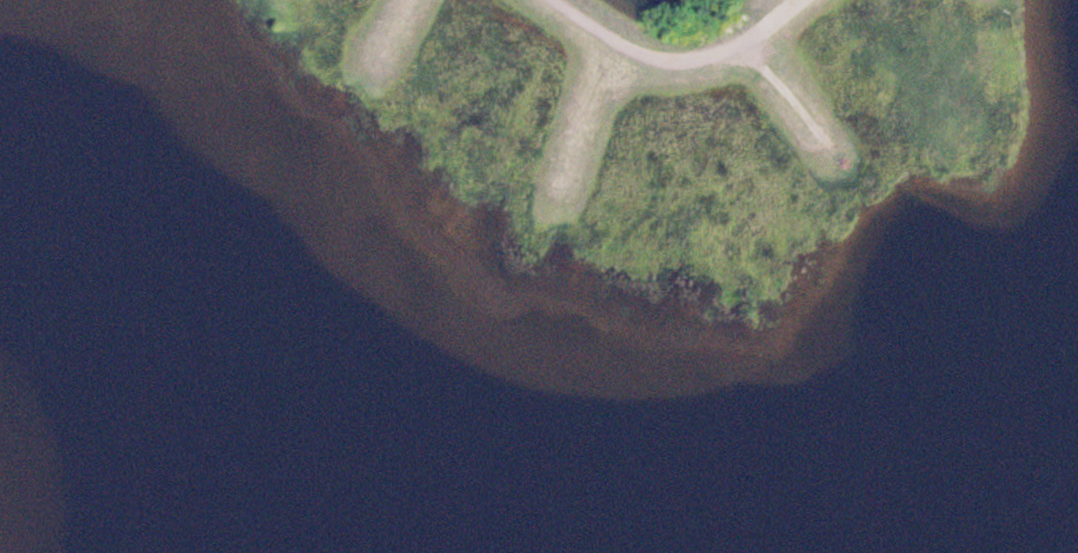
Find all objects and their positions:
road: (681, 55)

